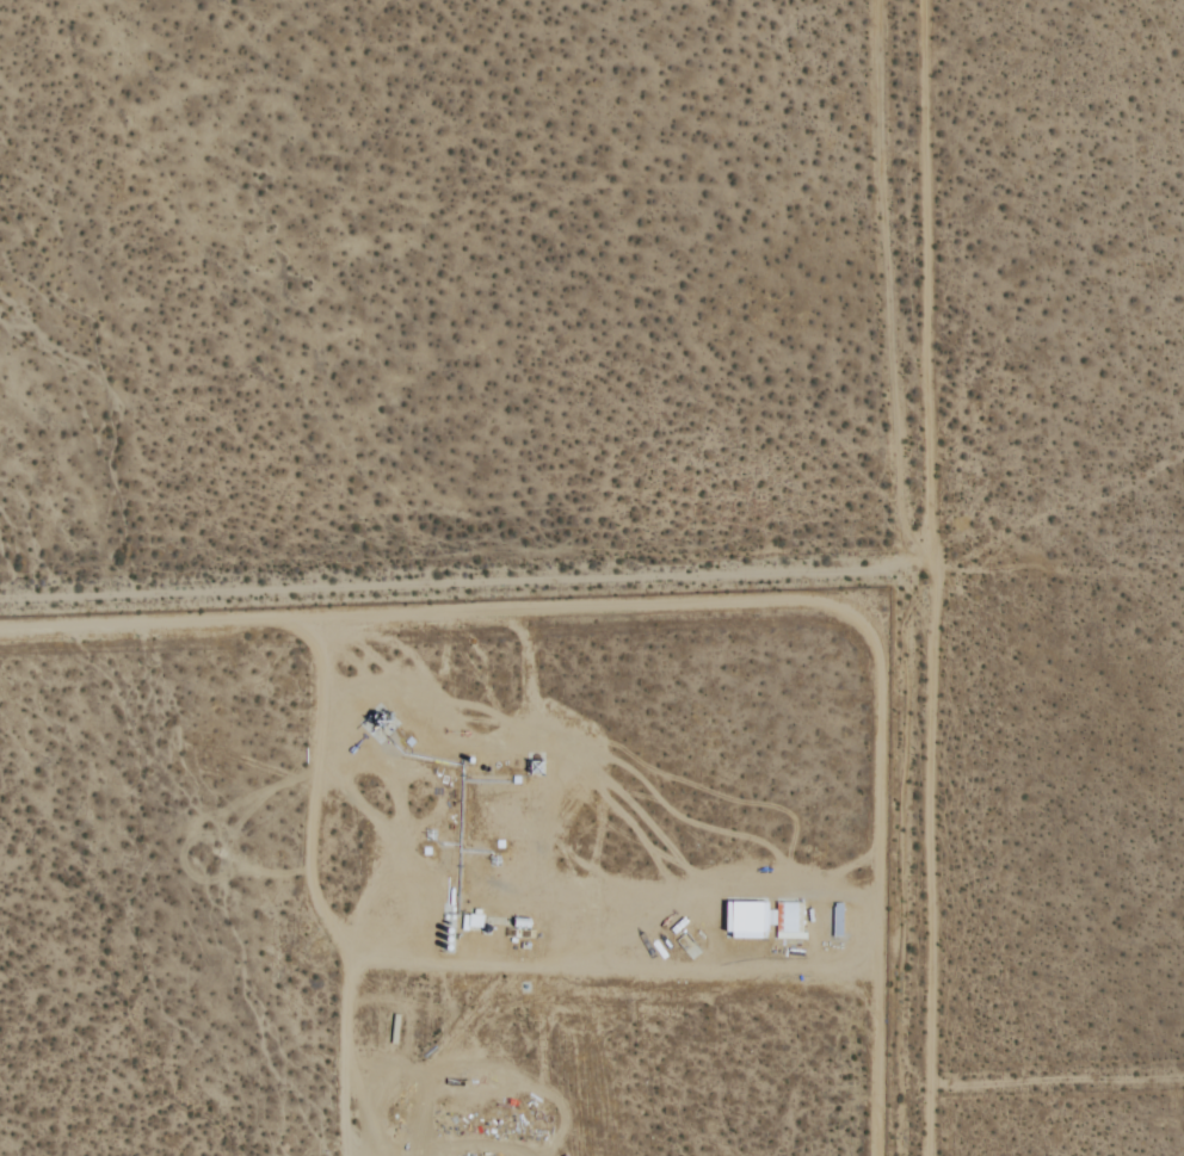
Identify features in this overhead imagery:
road: (937, 577)
road: (471, 582)
airport: (450, 879)

